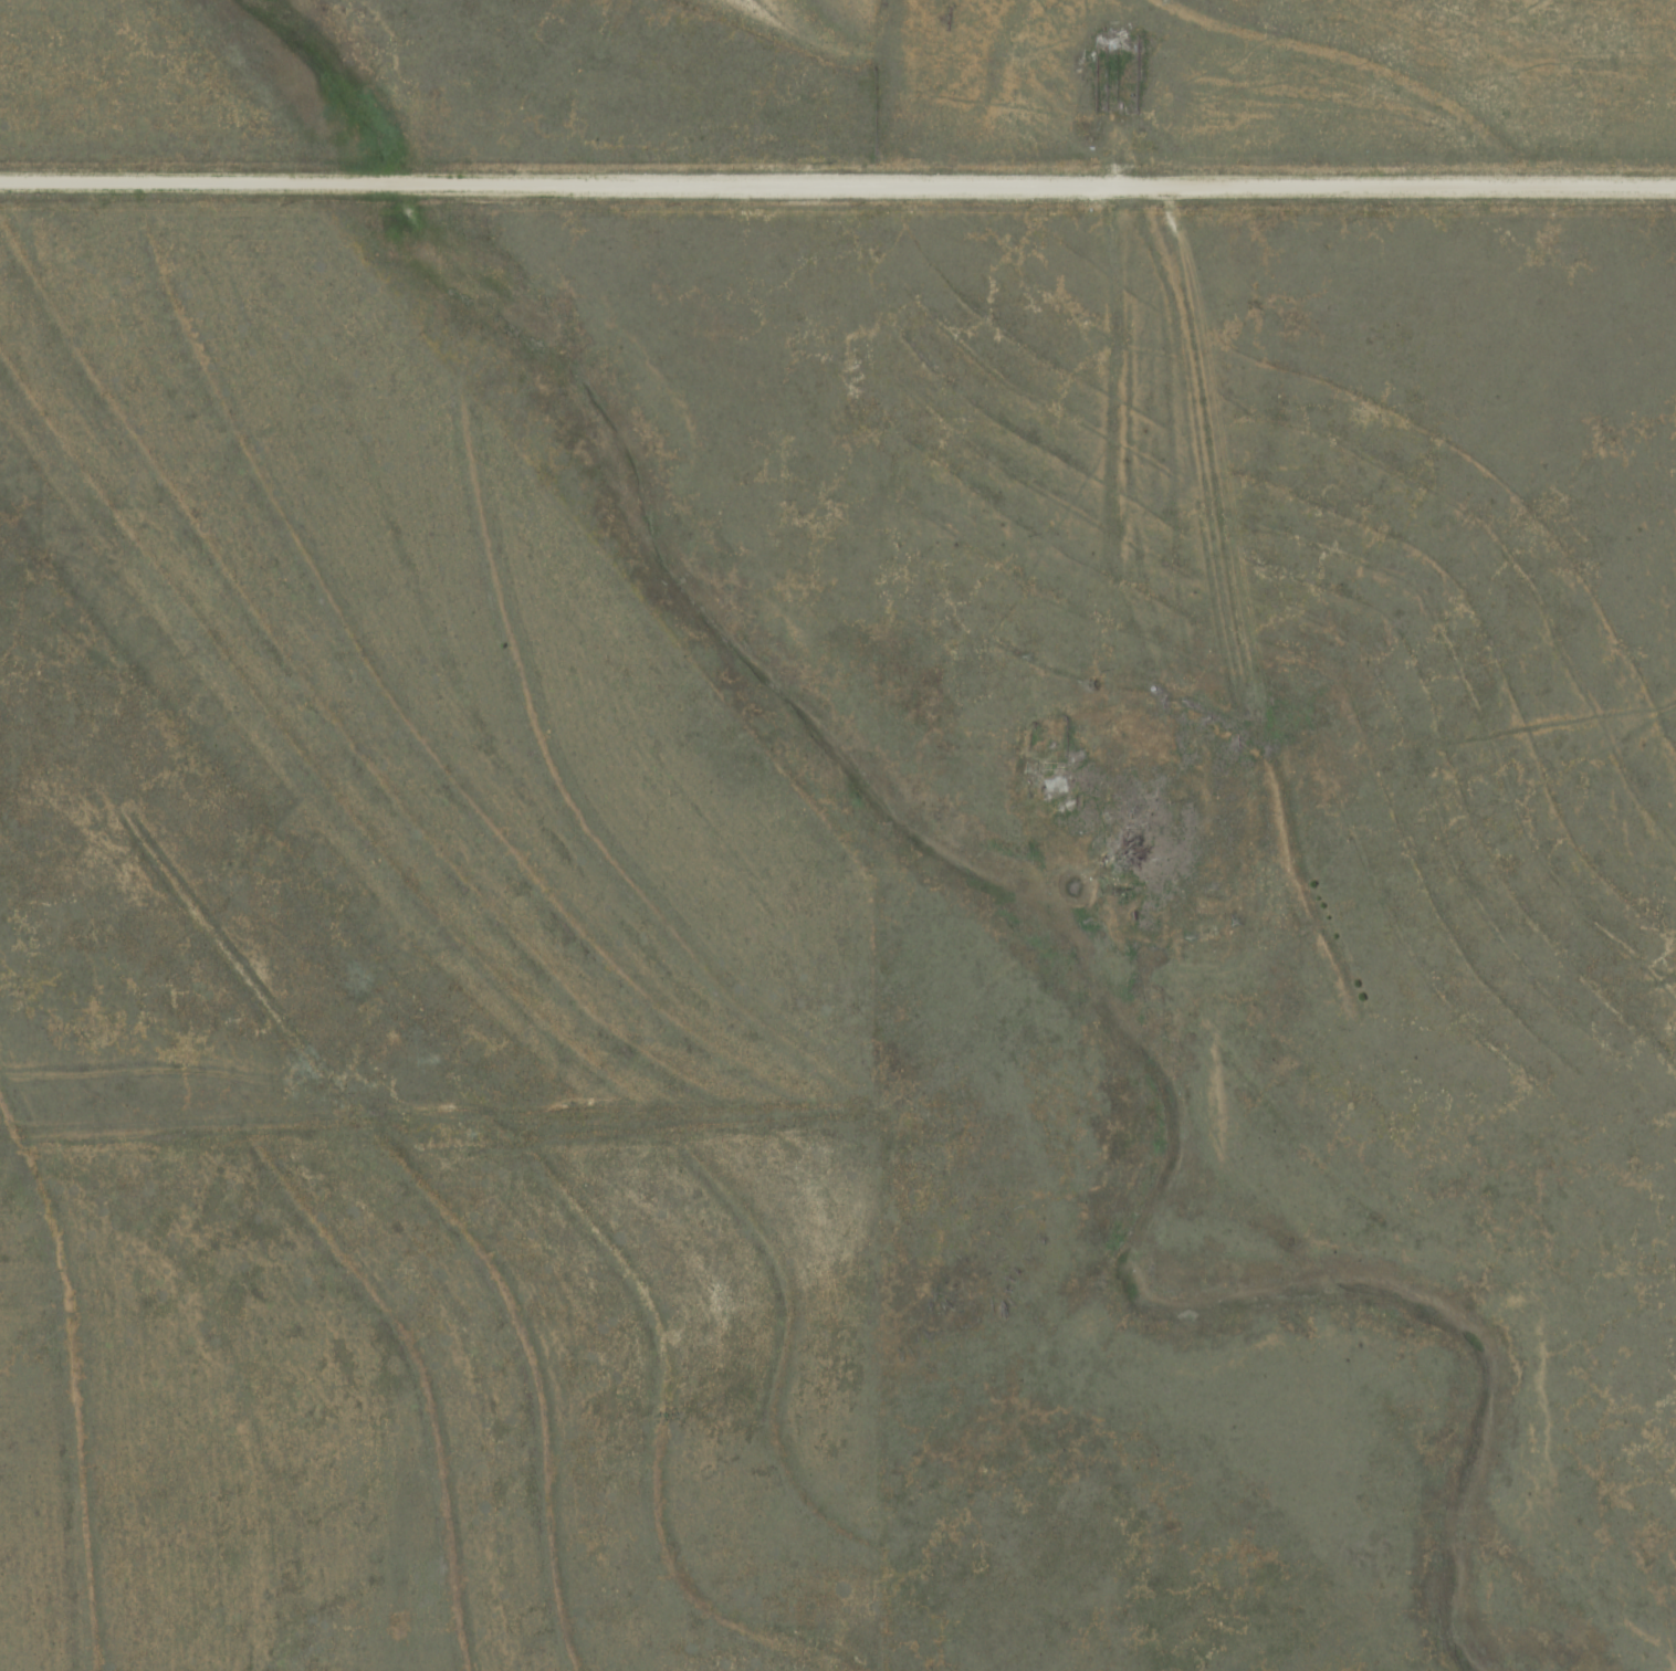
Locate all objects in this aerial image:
road: (838, 209)
road: (1128, 488)

